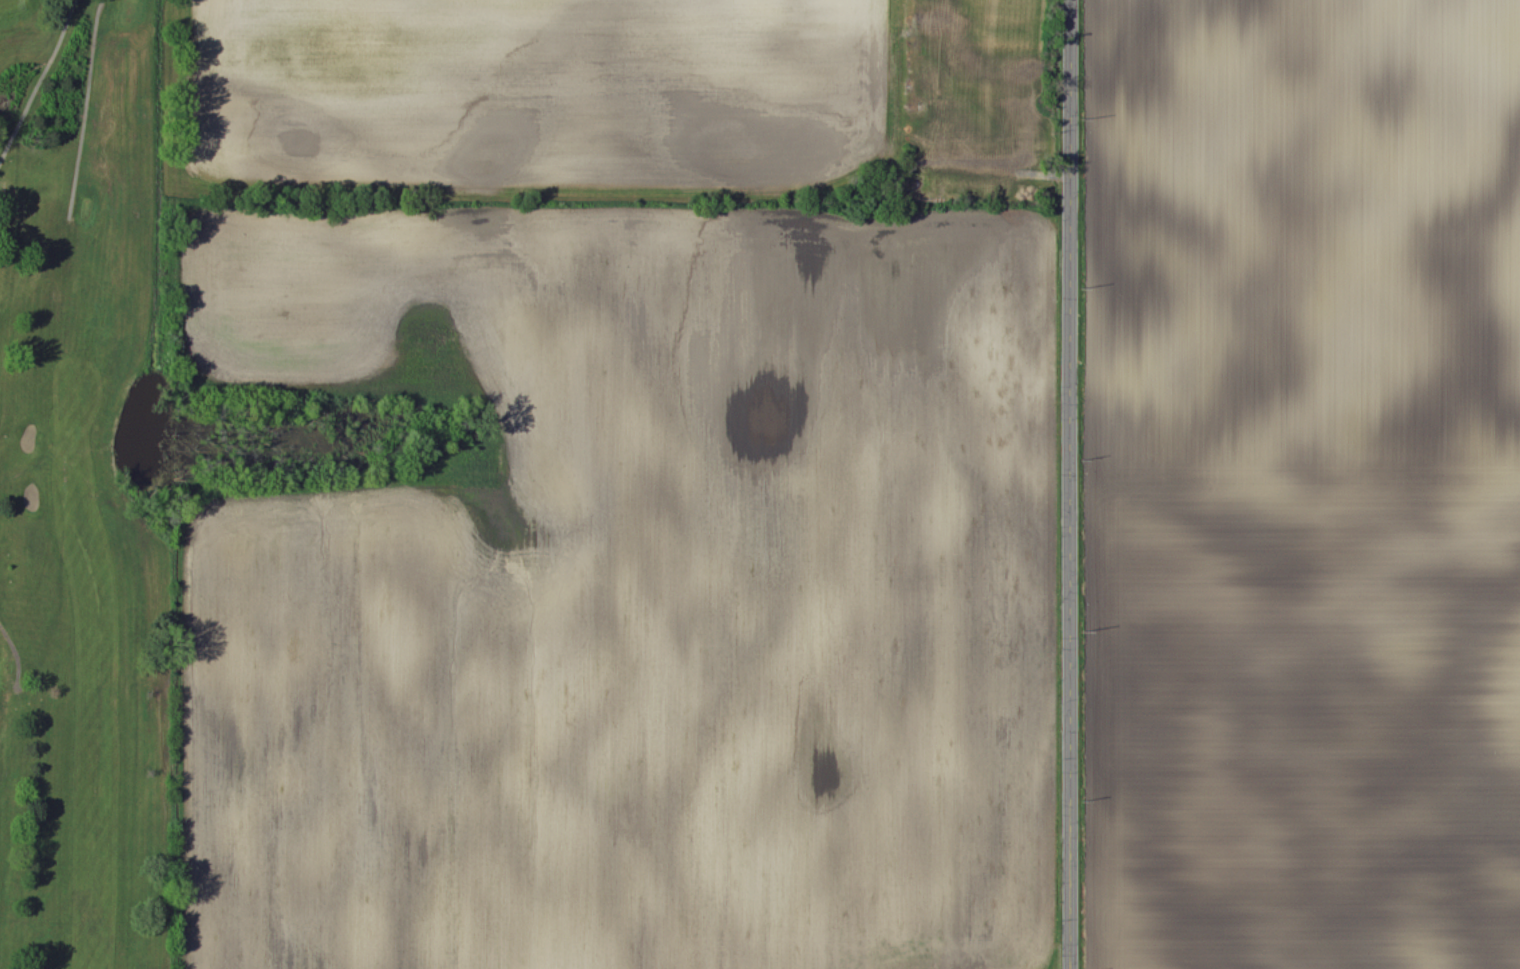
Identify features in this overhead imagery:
road: (1071, 484)

